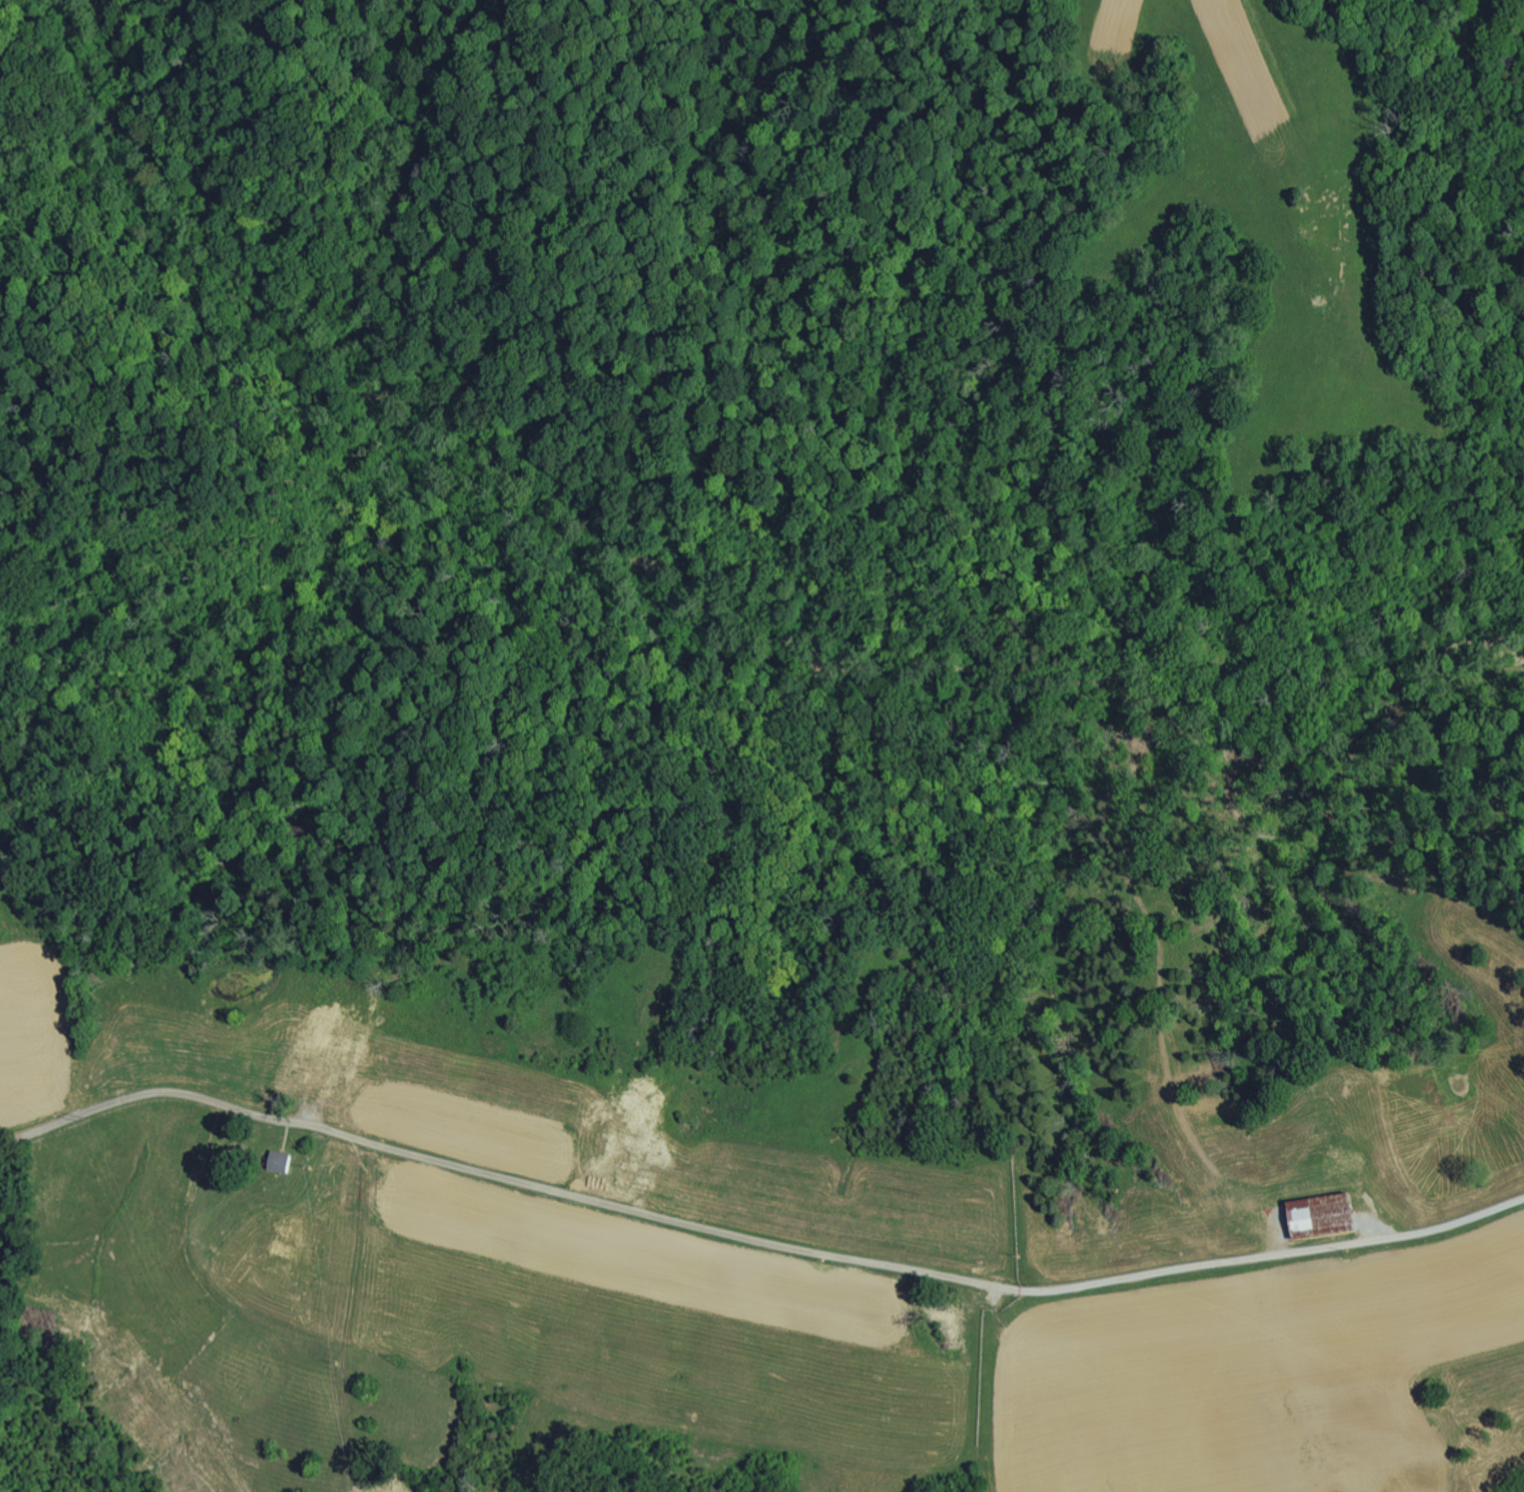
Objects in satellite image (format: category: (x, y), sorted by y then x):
building: (304, 1076)
building: (279, 1162)
road: (756, 1242)

